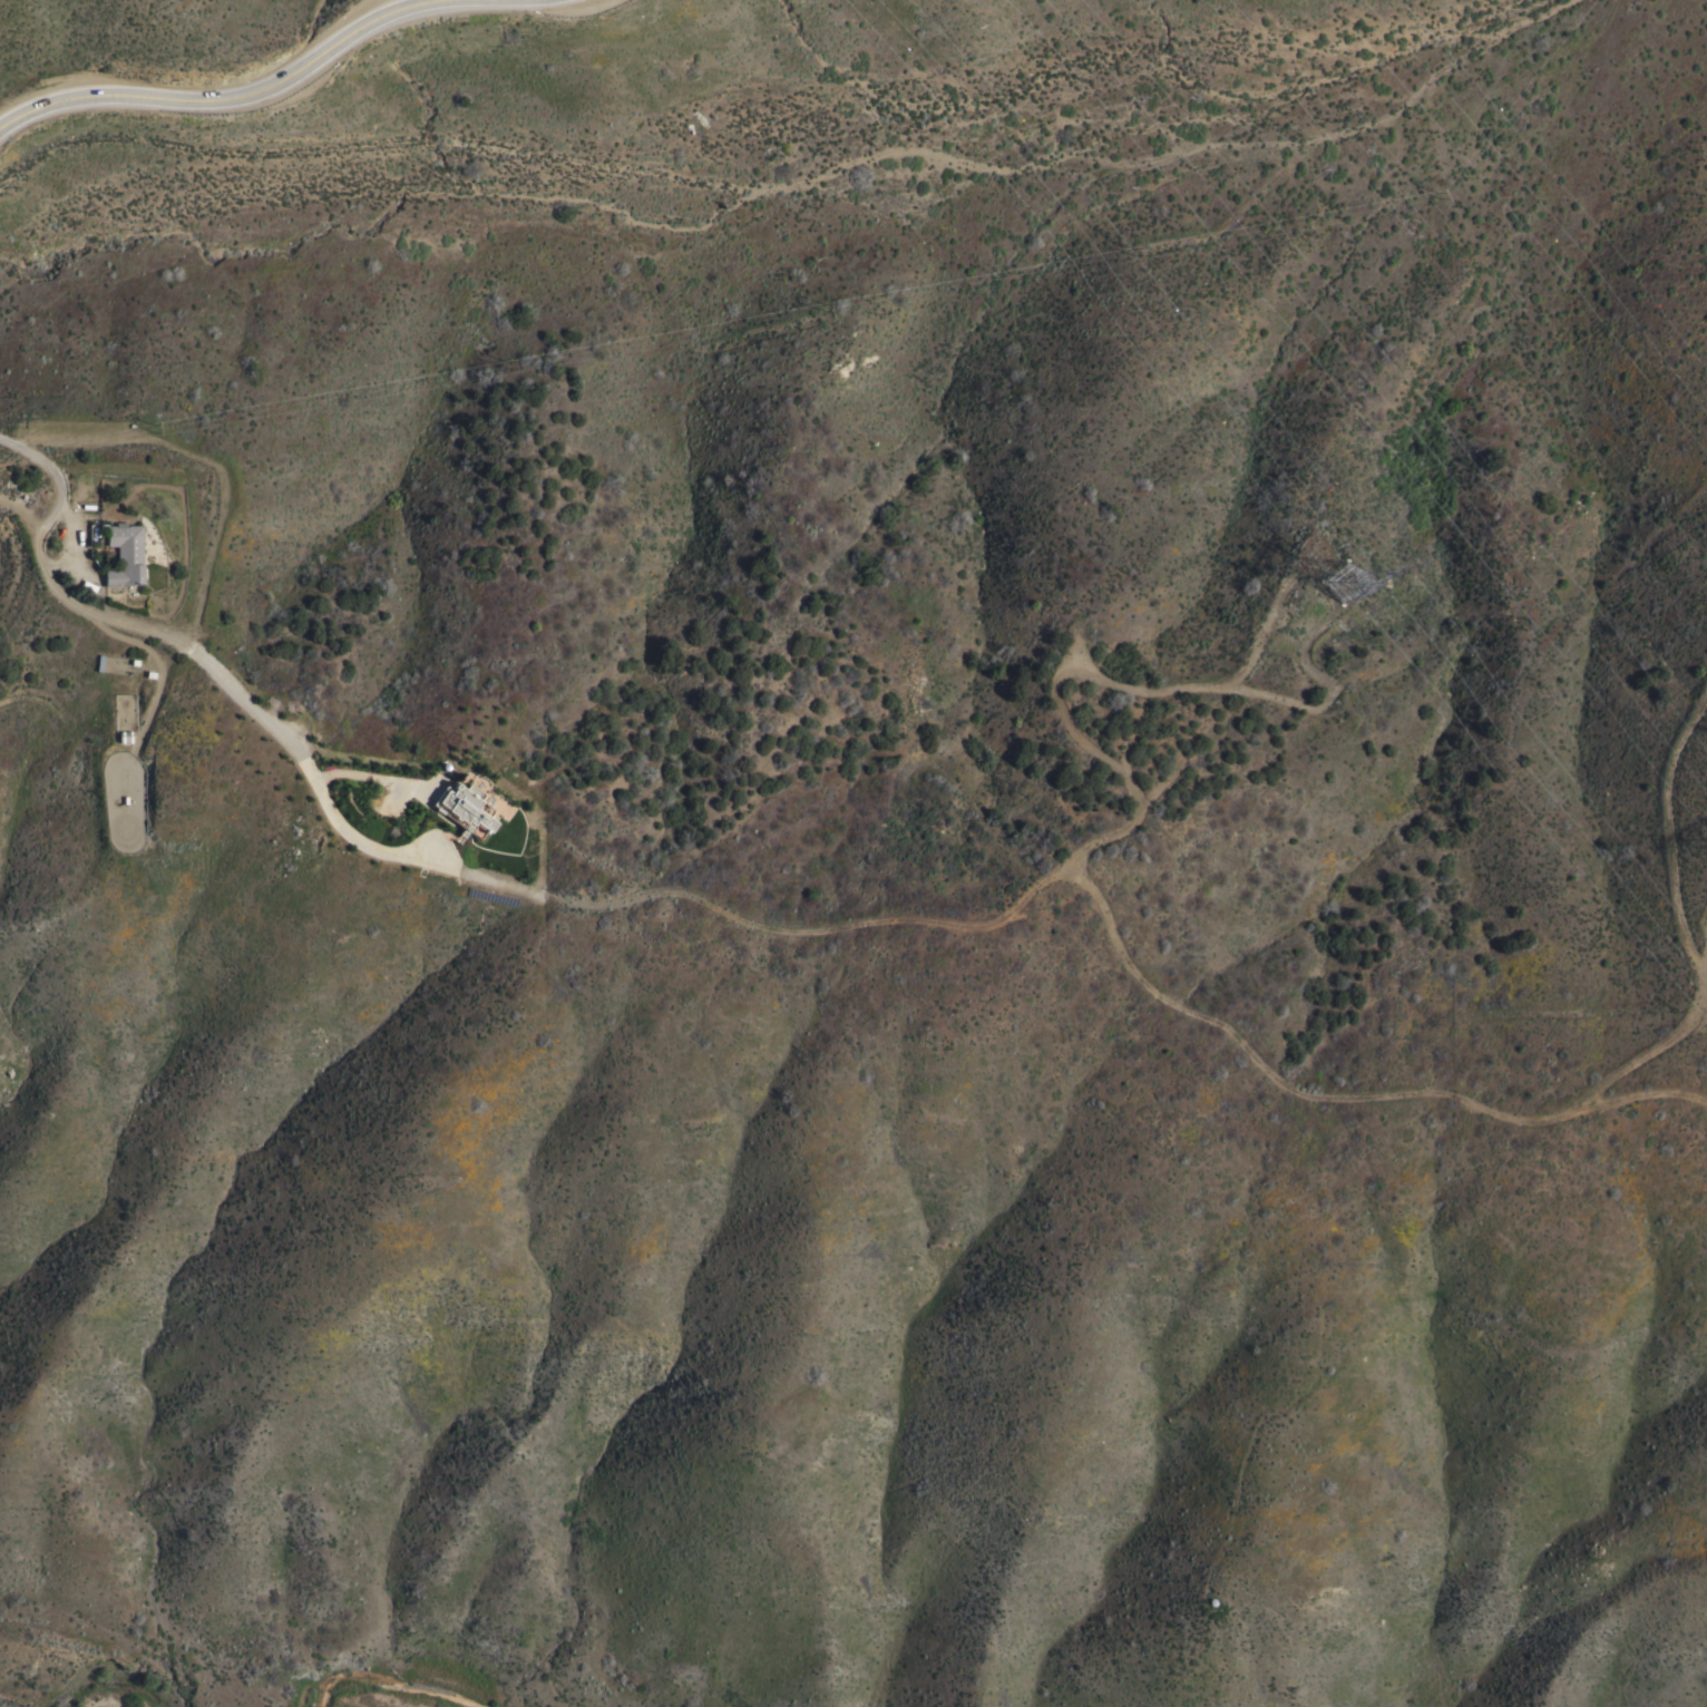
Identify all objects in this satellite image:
road: (232, 97)
road: (1020, 176)
road: (48, 482)
building: (123, 554)
power tower: (1338, 582)
road: (368, 773)
building: (464, 808)
road: (850, 921)

